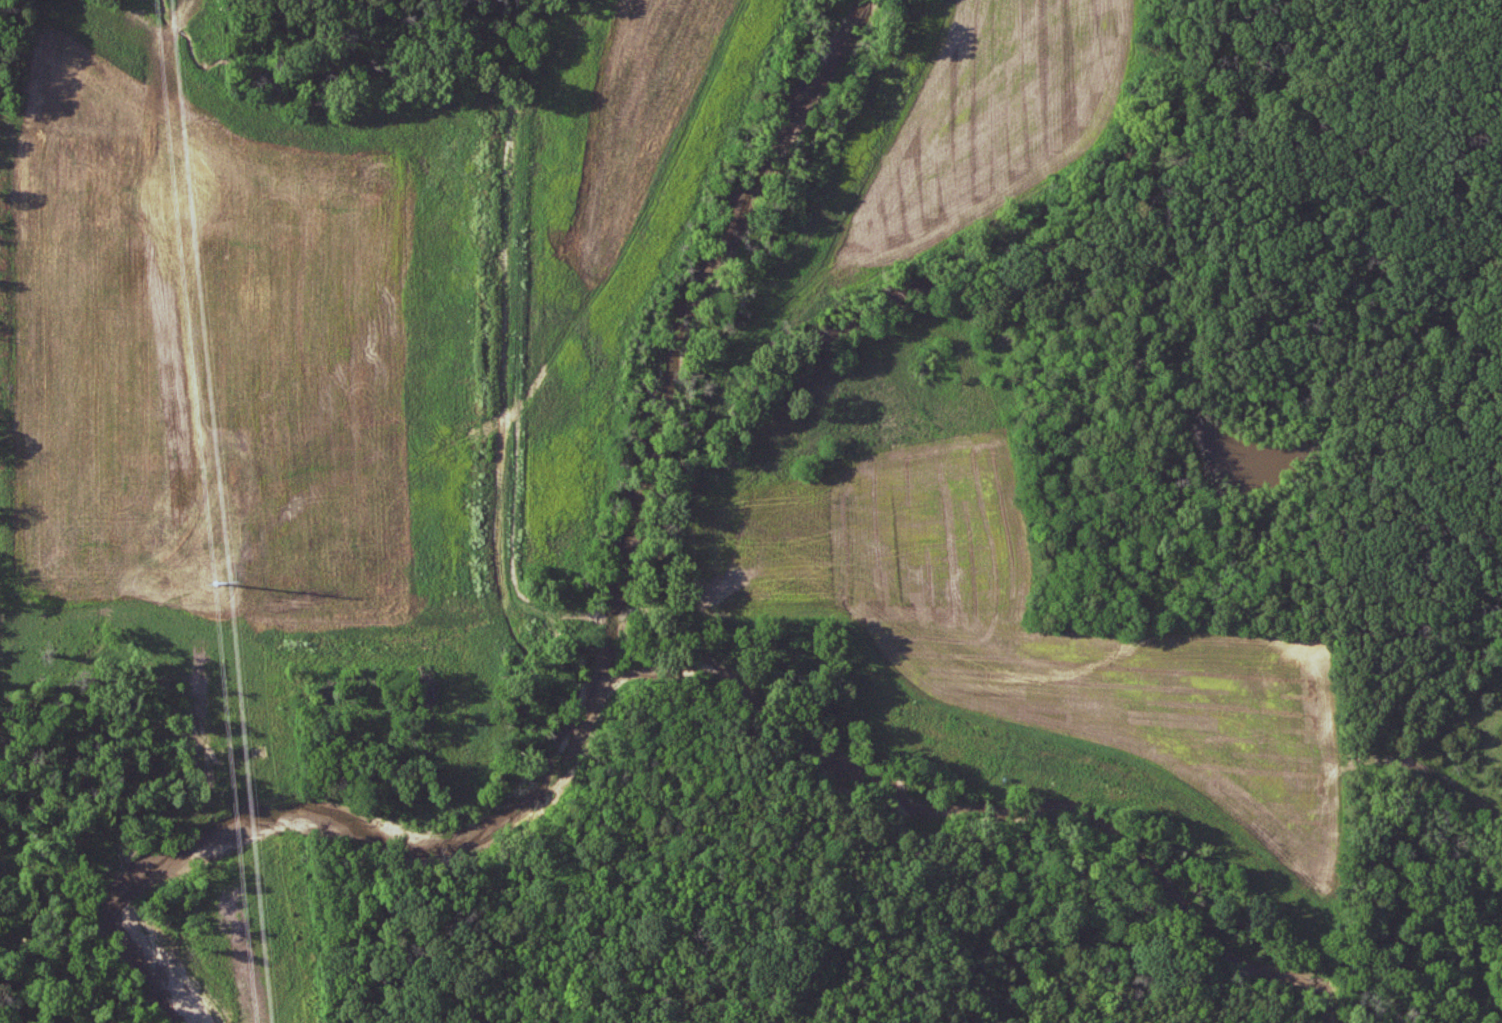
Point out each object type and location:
power tower: (215, 581)

